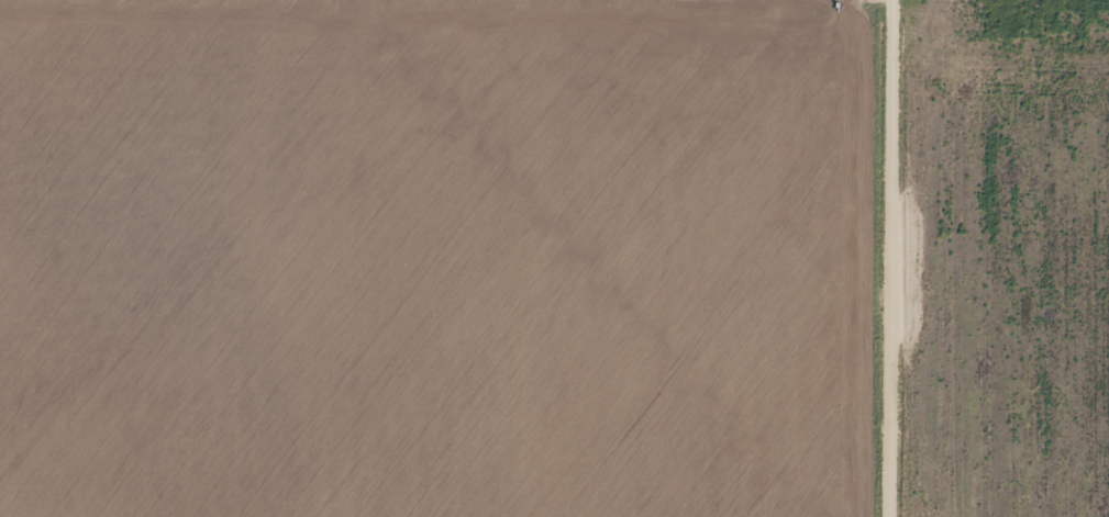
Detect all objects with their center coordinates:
road: (854, 258)

